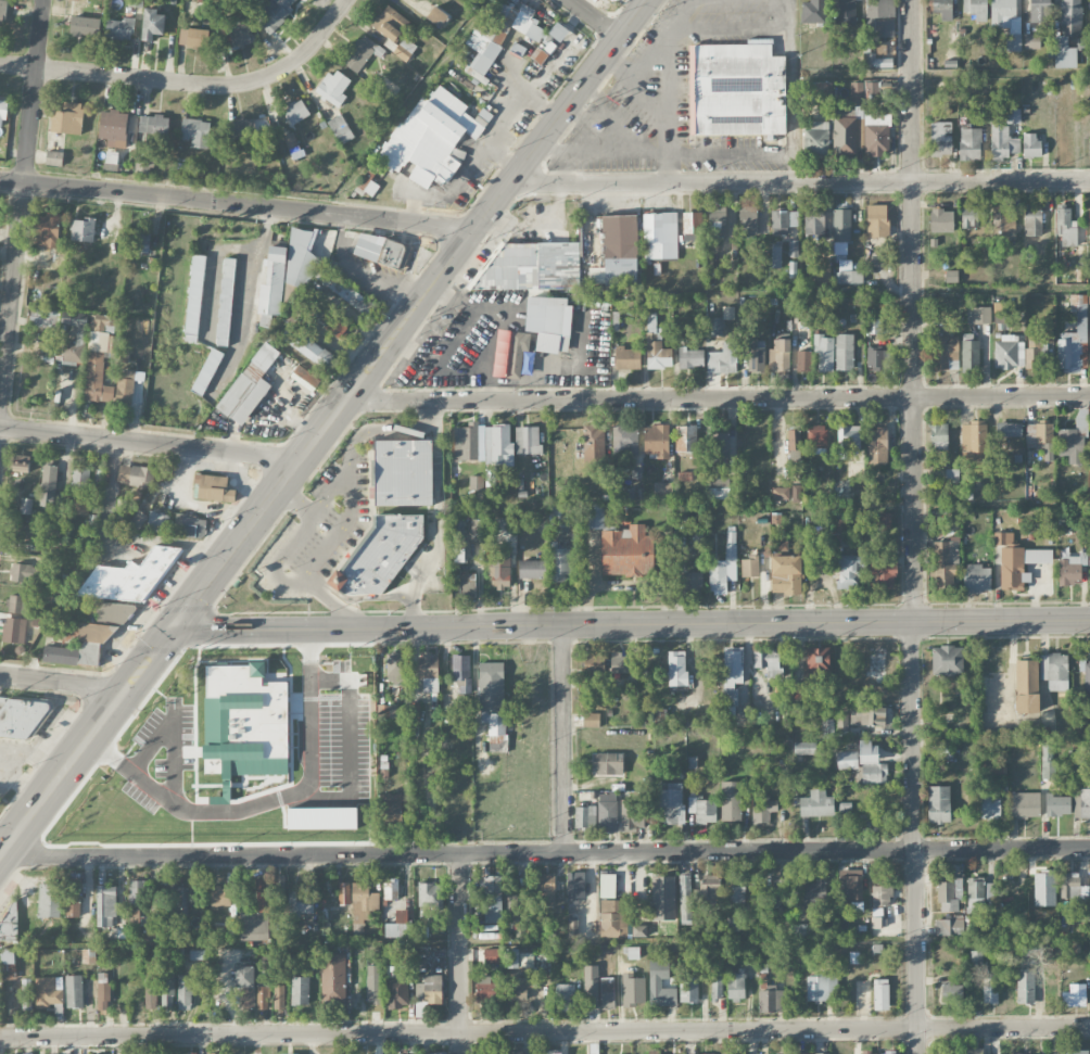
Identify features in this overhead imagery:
building: (416, 0)
building: (943, 9)
building: (976, 9)
building: (813, 11)
building: (1040, 11)
building: (2, 12)
building: (275, 13)
building: (436, 15)
building: (879, 16)
road: (596, 18)
building: (1006, 22)
building: (152, 23)
building: (390, 23)
building: (84, 26)
road: (731, 26)
building: (119, 28)
building: (558, 31)
building: (1067, 33)
building: (499, 34)
building: (193, 37)
building: (1031, 40)
building: (517, 49)
building: (407, 51)
building: (543, 51)
building: (360, 52)
building: (875, 61)
road: (191, 85)
building: (815, 85)
road: (667, 86)
building: (333, 87)
road: (641, 87)
building: (736, 90)
road: (791, 90)
building: (872, 91)
building: (857, 93)
building: (295, 111)
building: (2, 112)
building: (1012, 115)
building: (67, 117)
building: (153, 124)
road: (587, 125)
building: (113, 127)
building: (239, 128)
building: (340, 129)
building: (195, 131)
building: (876, 134)
building: (846, 136)
building: (432, 138)
building: (815, 138)
building: (940, 138)
building: (1002, 141)
building: (969, 143)
building: (1030, 144)
road: (604, 153)
road: (724, 153)
building: (111, 156)
building: (53, 157)
building: (141, 165)
road: (559, 167)
road: (799, 181)
road: (238, 205)
road: (23, 208)
building: (969, 217)
building: (1089, 218)
building: (1031, 219)
building: (748, 220)
building: (783, 220)
building: (877, 220)
building: (941, 220)
building: (717, 221)
building: (814, 221)
building: (1003, 223)
building: (692, 226)
building: (1066, 226)
building: (47, 229)
building: (81, 229)
building: (841, 231)
building: (660, 234)
building: (141, 240)
building: (378, 249)
building: (793, 249)
building: (620, 250)
building: (776, 254)
building: (300, 258)
building: (531, 267)
building: (823, 272)
building: (849, 272)
building: (596, 275)
building: (272, 282)
building: (193, 293)
road: (245, 296)
building: (353, 296)
building: (224, 301)
building: (728, 313)
building: (999, 313)
building: (978, 315)
road: (409, 316)
building: (43, 317)
building: (549, 322)
building: (337, 325)
building: (874, 326)
building: (714, 328)
building: (81, 332)
building: (1074, 338)
building: (113, 343)
building: (1037, 346)
building: (657, 350)
building: (824, 352)
building: (844, 352)
building: (945, 352)
building: (1007, 352)
building: (509, 353)
building: (969, 354)
building: (756, 355)
building: (780, 355)
building: (628, 357)
building: (690, 357)
building: (98, 358)
building: (328, 358)
building: (722, 358)
building: (878, 358)
building: (803, 360)
building: (205, 371)
building: (305, 377)
building: (249, 385)
building: (125, 386)
road: (717, 398)
building: (1009, 429)
road: (375, 430)
building: (1038, 433)
building: (939, 435)
building: (816, 436)
building: (686, 437)
building: (848, 439)
building: (527, 440)
building: (624, 440)
building: (656, 441)
building: (973, 441)
building: (469, 443)
road: (150, 444)
building: (794, 444)
building: (1072, 444)
building: (498, 445)
building: (718, 445)
building: (877, 445)
building: (593, 446)
building: (21, 462)
building: (403, 472)
building: (135, 474)
building: (684, 475)
building: (99, 477)
building: (476, 482)
building: (48, 484)
building: (214, 487)
building: (662, 488)
building: (80, 491)
building: (718, 491)
building: (781, 493)
building: (628, 495)
road: (351, 500)
building: (25, 505)
building: (595, 516)
road: (436, 517)
building: (559, 518)
building: (139, 520)
building: (157, 521)
building: (884, 522)
building: (190, 525)
road: (914, 526)
building: (477, 530)
building: (27, 531)
building: (839, 532)
road: (124, 535)
building: (628, 551)
building: (380, 554)
road: (467, 558)
building: (1017, 560)
building: (559, 562)
building: (946, 564)
building: (749, 566)
building: (723, 567)
building: (1070, 568)
building: (532, 569)
building: (849, 570)
building: (499, 571)
building: (24, 572)
road: (275, 572)
building: (884, 572)
building: (786, 574)
building: (130, 576)
building: (977, 579)
building: (692, 583)
building: (467, 585)
road: (376, 597)
building: (17, 604)
building: (118, 612)
road: (630, 624)
building: (13, 630)
building: (96, 632)
traffic signals: (170, 632)
road: (218, 639)
road: (269, 642)
road: (294, 647)
road: (335, 647)
road: (235, 652)
building: (60, 653)
building: (89, 653)
building: (947, 660)
building: (768, 661)
building: (620, 662)
road: (320, 664)
building: (395, 666)
building: (594, 666)
building: (676, 668)
building: (1054, 670)
building: (813, 671)
building: (461, 672)
building: (1086, 676)
road: (64, 683)
building: (733, 683)
building: (1026, 686)
building: (182, 698)
road: (325, 702)
building: (492, 702)
building: (655, 714)
building: (867, 715)
building: (20, 718)
building: (243, 718)
building: (591, 719)
building: (841, 722)
building: (826, 727)
road: (320, 736)
road: (562, 739)
road: (86, 744)
building: (804, 747)
building: (847, 760)
building: (1047, 762)
building: (608, 763)
building: (871, 763)
building: (1077, 771)
building: (999, 772)
building: (731, 800)
building: (1085, 802)
building: (670, 803)
building: (816, 803)
building: (938, 803)
building: (1024, 804)
building: (1057, 804)
road: (97, 805)
building: (989, 805)
building: (1076, 805)
building: (763, 808)
building: (842, 808)
building: (391, 809)
building: (702, 810)
building: (607, 811)
building: (632, 814)
building: (585, 817)
building: (869, 822)
road: (1002, 849)
road: (456, 853)
building: (280, 884)
building: (850, 885)
building: (575, 886)
building: (607, 886)
building: (1073, 886)
building: (391, 888)
building: (708, 888)
building: (736, 888)
building: (546, 889)
building: (781, 890)
building: (975, 891)
building: (989, 891)
building: (137, 892)
building: (344, 892)
building: (430, 893)
building: (814, 894)
building: (949, 894)
building: (882, 896)
building: (73, 898)
building: (219, 898)
building: (492, 898)
building: (662, 898)
building: (178, 899)
building: (685, 899)
building: (49, 900)
building: (363, 902)
building: (301, 903)
building: (105, 905)
building: (518, 909)
building: (134, 916)
building: (257, 917)
building: (613, 917)
building: (732, 922)
building: (875, 922)
building: (948, 926)
building: (799, 928)
building: (397, 929)
road: (460, 953)
building: (88, 955)
building: (491, 955)
building: (518, 958)
building: (8, 962)
building: (392, 964)
building: (243, 976)
building: (333, 978)
building: (151, 983)
building: (373, 983)
building: (717, 983)
building: (660, 985)
building: (735, 985)
building: (591, 986)
building: (1025, 986)
building: (821, 987)
building: (168, 988)
building: (486, 988)
building: (429, 989)
building: (518, 989)
building: (633, 989)
building: (688, 989)
building: (300, 990)
building: (990, 990)
building: (74, 991)
building: (183, 991)
building: (951, 991)
building: (47, 992)
building: (607, 992)
building: (25, 993)
building: (880, 993)
building: (102, 995)
building: (1074, 995)
building: (279, 996)
building: (565, 996)
building: (262, 998)
building: (355, 998)
building: (771, 999)
building: (246, 1003)
road: (545, 1032)
building: (552, 1051)
building: (438, 1052)
building: (514, 1052)
building: (594, 1052)
building: (652, 1052)
building: (1074, 1052)
building: (187, 1053)
building: (218, 1053)
building: (708, 1053)
building: (801, 1053)
building: (822, 1053)
building: (890, 1053)

